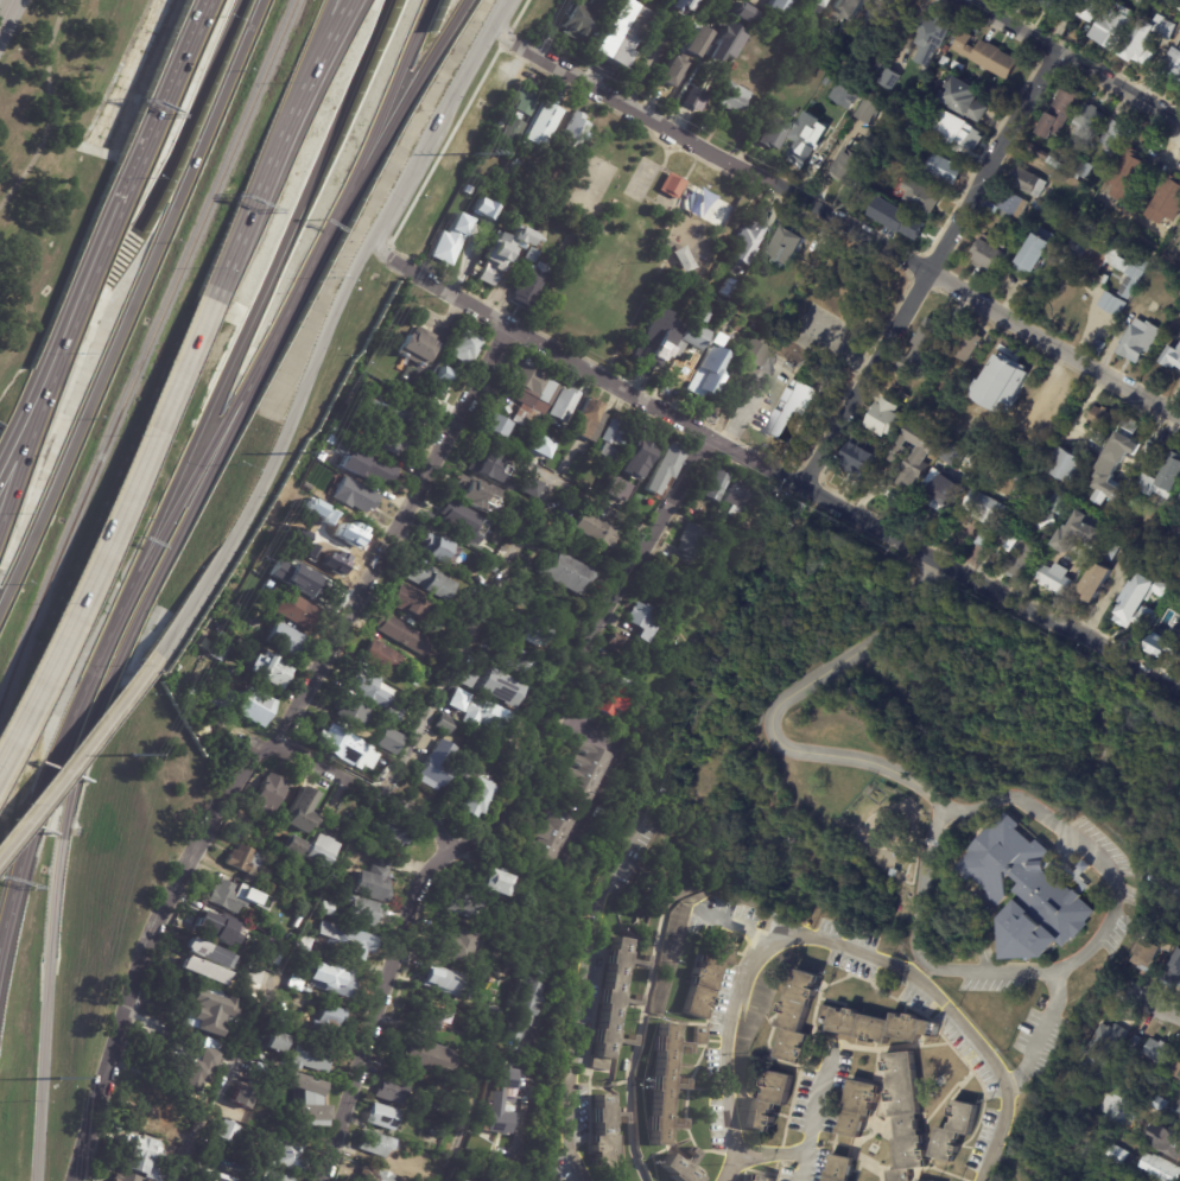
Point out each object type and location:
building: (684, 2)
building: (821, 2)
building: (1048, 4)
building: (781, 5)
building: (1083, 5)
road: (11, 6)
road: (12, 6)
road: (499, 8)
building: (849, 8)
building: (1085, 9)
building: (741, 12)
building: (585, 18)
road: (4, 19)
building: (880, 24)
building: (1114, 26)
building: (846, 28)
building: (624, 30)
building: (931, 37)
building: (1148, 39)
building: (723, 44)
road: (184, 53)
building: (988, 55)
road: (311, 56)
road: (322, 56)
building: (686, 56)
building: (945, 59)
road: (1071, 59)
building: (959, 65)
building: (1174, 65)
building: (875, 66)
building: (887, 78)
building: (824, 81)
road: (391, 90)
road: (412, 90)
building: (697, 90)
building: (840, 96)
building: (734, 97)
building: (966, 97)
building: (527, 100)
road: (50, 107)
building: (868, 110)
building: (1062, 110)
road: (749, 113)
building: (793, 113)
road: (195, 115)
building: (909, 118)
building: (1091, 120)
building: (544, 125)
road: (432, 126)
building: (577, 131)
building: (512, 132)
building: (774, 132)
building: (964, 132)
building: (1117, 134)
building: (808, 138)
building: (1039, 152)
building: (855, 161)
building: (1054, 163)
building: (945, 167)
building: (1076, 177)
building: (1125, 180)
building: (1029, 182)
building: (670, 185)
building: (924, 195)
building: (1167, 202)
building: (1039, 204)
building: (1015, 205)
road: (250, 207)
building: (708, 208)
building: (865, 208)
building: (483, 209)
building: (1073, 214)
road: (831, 221)
building: (909, 223)
building: (1089, 229)
park: (629, 233)
building: (449, 240)
building: (748, 241)
building: (1119, 243)
building: (786, 245)
building: (535, 249)
building: (502, 250)
building: (1131, 250)
building: (1036, 252)
road: (99, 254)
building: (991, 254)
building: (1086, 258)
building: (1159, 266)
road: (927, 268)
road: (405, 269)
building: (1136, 277)
building: (532, 282)
road: (260, 293)
building: (683, 293)
building: (699, 301)
building: (1114, 304)
road: (132, 305)
road: (285, 322)
building: (696, 330)
building: (655, 332)
building: (718, 339)
building: (1141, 339)
building: (467, 345)
building: (968, 345)
building: (418, 347)
building: (1100, 347)
building: (922, 349)
building: (1172, 353)
railway: (145, 356)
building: (751, 357)
building: (708, 372)
building: (437, 382)
building: (1000, 383)
building: (528, 394)
road: (749, 404)
building: (562, 405)
building: (789, 406)
building: (381, 407)
building: (881, 417)
building: (1098, 418)
building: (586, 419)
building: (500, 425)
road: (19, 437)
building: (1097, 438)
building: (387, 440)
building: (610, 440)
building: (540, 446)
building: (914, 452)
road: (277, 453)
building: (855, 453)
building: (1112, 461)
building: (634, 462)
road: (20, 464)
building: (1061, 465)
building: (489, 468)
building: (664, 468)
building: (372, 469)
building: (1171, 472)
road: (556, 481)
building: (713, 487)
building: (531, 488)
building: (938, 490)
building: (734, 494)
road: (814, 494)
building: (351, 495)
building: (476, 497)
building: (1179, 497)
building: (1057, 501)
building: (1179, 501)
building: (1136, 502)
building: (570, 506)
building: (982, 509)
building: (453, 515)
building: (515, 515)
building: (780, 519)
building: (1043, 522)
road: (167, 523)
building: (592, 528)
road: (110, 529)
building: (1074, 532)
building: (341, 535)
building: (1002, 535)
road: (394, 536)
building: (715, 538)
building: (690, 541)
building: (433, 547)
building: (1109, 552)
building: (1021, 553)
road: (169, 558)
building: (1128, 561)
building: (491, 567)
building: (565, 572)
building: (1052, 578)
building: (426, 579)
building: (1093, 582)
building: (302, 586)
building: (266, 590)
building: (1179, 595)
building: (1137, 602)
building: (411, 603)
road: (614, 608)
building: (306, 616)
building: (643, 623)
building: (1179, 624)
building: (531, 631)
building: (401, 635)
building: (451, 637)
road: (470, 639)
building: (288, 640)
building: (1156, 645)
building: (378, 658)
building: (514, 659)
building: (273, 669)
building: (220, 680)
building: (398, 684)
building: (500, 686)
building: (366, 687)
building: (458, 692)
building: (423, 699)
building: (611, 699)
building: (223, 700)
building: (367, 706)
building: (256, 707)
road: (773, 709)
building: (348, 712)
building: (393, 713)
building: (494, 717)
building: (444, 724)
road: (245, 736)
building: (337, 742)
building: (388, 742)
road: (77, 753)
building: (476, 754)
building: (376, 758)
road: (627, 761)
road: (53, 766)
building: (434, 767)
building: (583, 773)
building: (465, 774)
road: (363, 786)
building: (269, 794)
building: (477, 799)
building: (304, 812)
road: (493, 821)
road: (1057, 830)
building: (387, 833)
building: (551, 833)
building: (868, 842)
building: (293, 846)
building: (322, 851)
building: (245, 861)
road: (1166, 865)
building: (892, 874)
building: (495, 883)
building: (372, 884)
building: (1027, 891)
building: (230, 895)
building: (458, 904)
building: (359, 910)
road: (53, 912)
building: (1173, 919)
road: (734, 923)
building: (214, 927)
building: (291, 936)
building: (342, 940)
building: (451, 946)
road: (835, 948)
building: (302, 951)
road: (145, 952)
building: (1150, 952)
building: (209, 954)
building: (204, 971)
building: (1173, 971)
road: (653, 973)
building: (708, 974)
building: (332, 978)
building: (439, 980)
building: (252, 982)
building: (296, 983)
road: (1135, 990)
road: (583, 999)
building: (527, 1003)
building: (616, 1003)
road: (380, 1009)
building: (208, 1012)
building: (433, 1016)
building: (499, 1016)
building: (797, 1016)
building: (331, 1017)
road: (1046, 1017)
building: (281, 1022)
building: (874, 1026)
building: (699, 1036)
building: (1133, 1042)
building: (278, 1043)
building: (1103, 1048)
building: (1156, 1050)
building: (194, 1053)
building: (426, 1058)
building: (310, 1059)
building: (1174, 1068)
building: (198, 1072)
building: (664, 1084)
building: (391, 1093)
road: (217, 1094)
building: (243, 1100)
road: (522, 1101)
building: (768, 1101)
building: (1157, 1103)
building: (151, 1105)
road: (470, 1106)
building: (856, 1107)
building: (315, 1110)
building: (1179, 1110)
building: (1179, 1112)
building: (902, 1115)
building: (379, 1118)
building: (484, 1129)
road: (806, 1129)
building: (609, 1130)
building: (953, 1131)
building: (227, 1132)
building: (434, 1132)
building: (1162, 1138)
building: (373, 1144)
building: (1115, 1155)
building: (287, 1157)
road: (800, 1158)
building: (145, 1161)
building: (681, 1168)
building: (1160, 1168)
building: (839, 1169)
building: (207, 1175)
building: (373, 1175)
building: (274, 1176)
building: (129, 1177)
building: (757, 1179)
building: (461, 1180)

